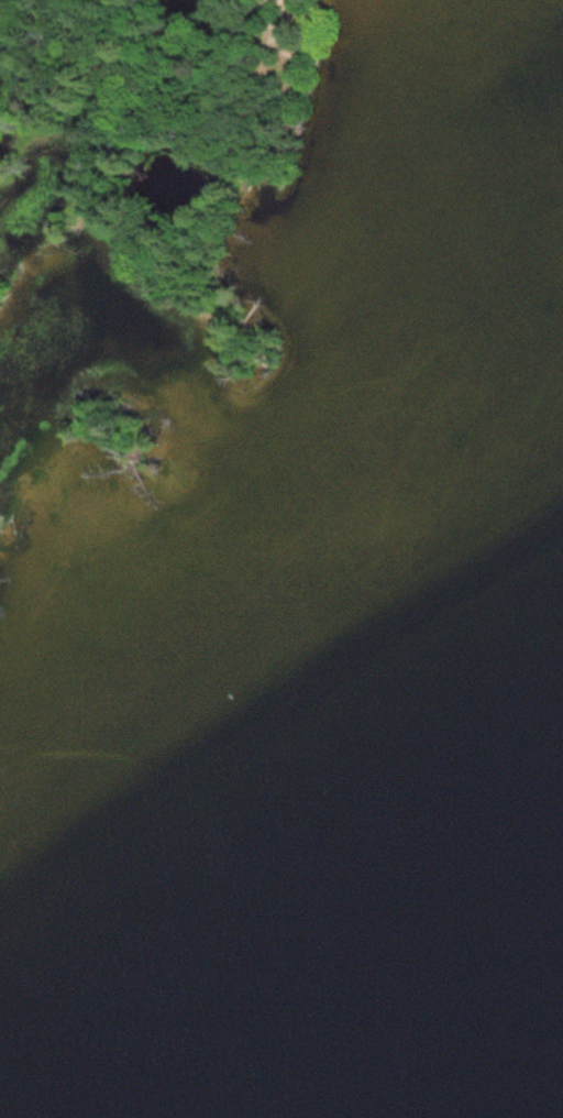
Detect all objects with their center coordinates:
road: (174, 62)
park: (141, 235)

